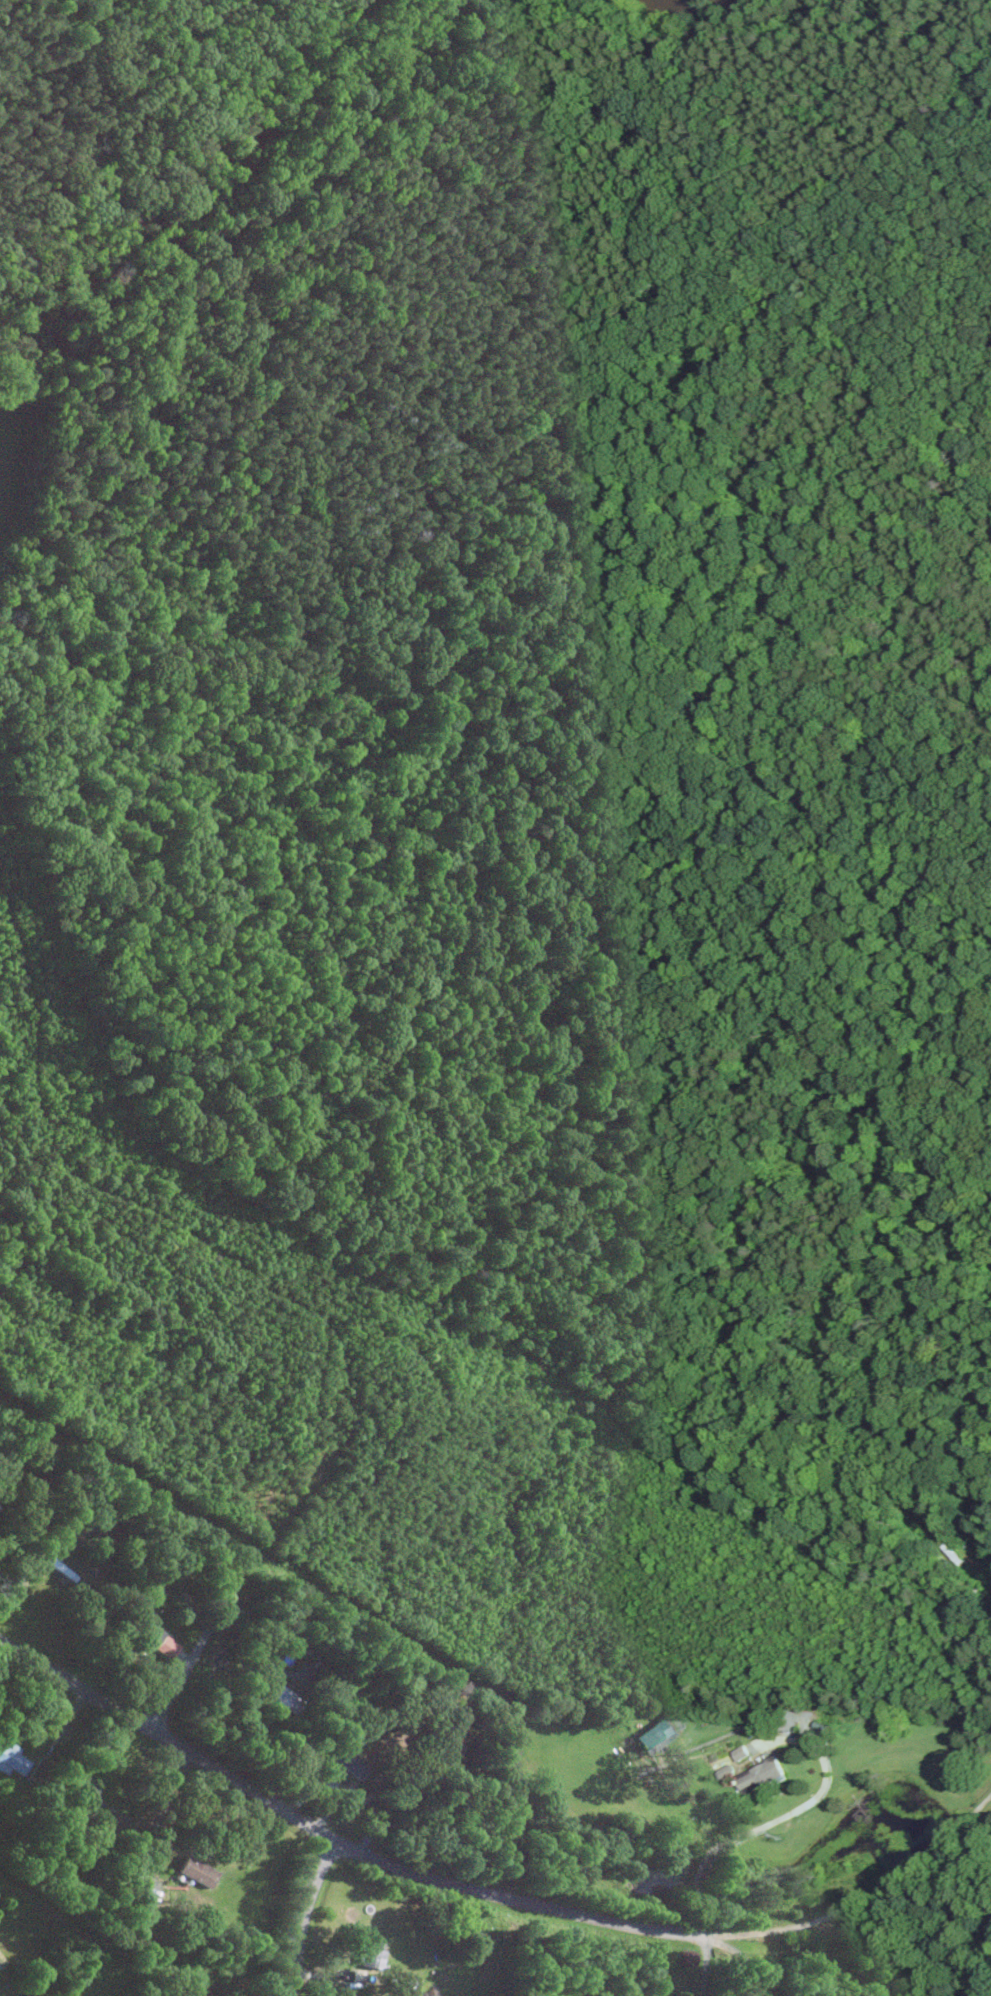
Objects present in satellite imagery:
building: (157, 1639)
road: (200, 1646)
building: (283, 1696)
building: (656, 1732)
building: (12, 1761)
building: (351, 1762)
building: (762, 1776)
road: (251, 1791)
road: (390, 1804)
road: (161, 1816)
road: (772, 1822)
building: (198, 1872)
road: (853, 1903)
road: (305, 1916)
road: (600, 1923)
building: (373, 1954)
road: (743, 1958)
road: (706, 1966)
building: (188, 1995)

